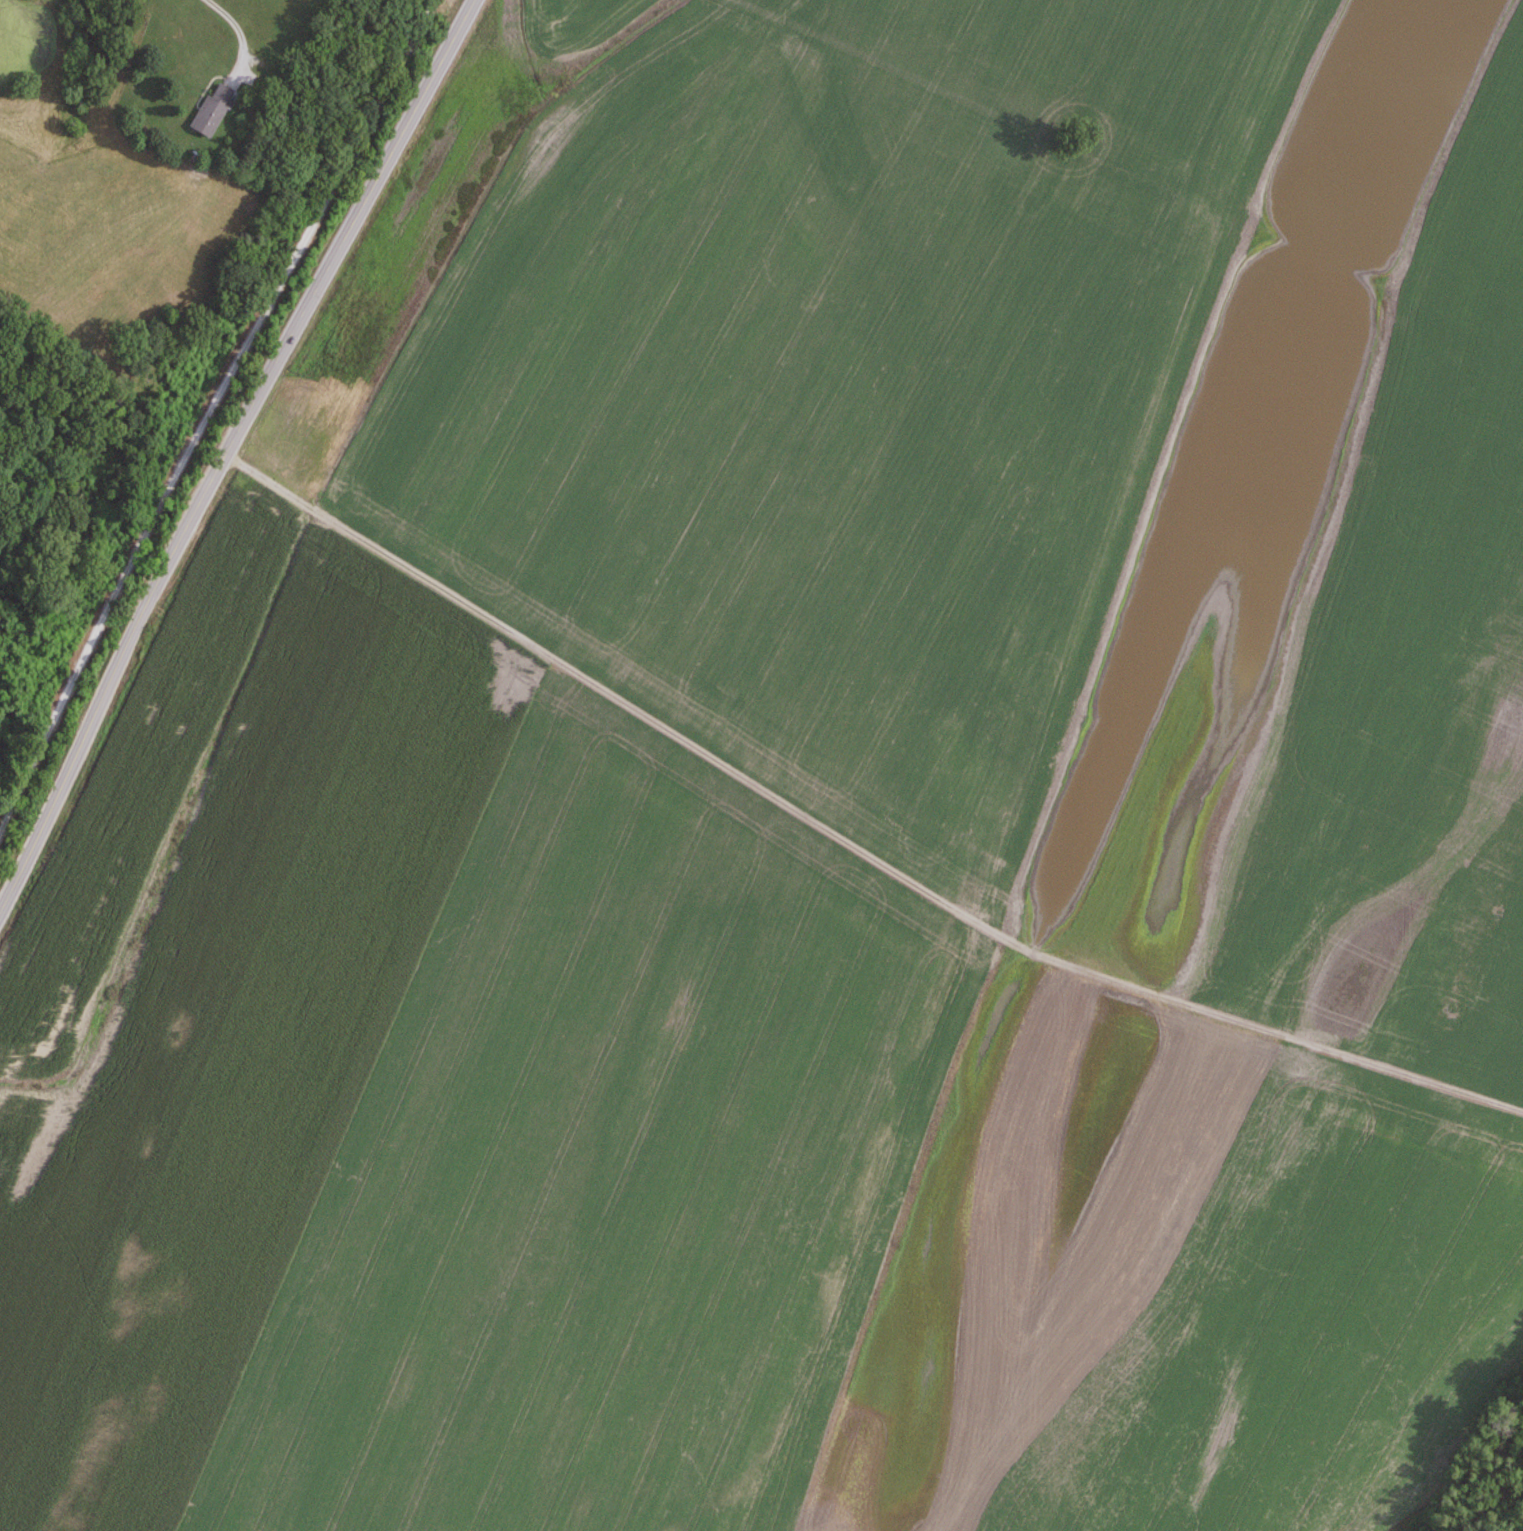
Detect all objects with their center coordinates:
road: (241, 20)
building: (214, 110)
road: (214, 406)
road: (230, 452)

